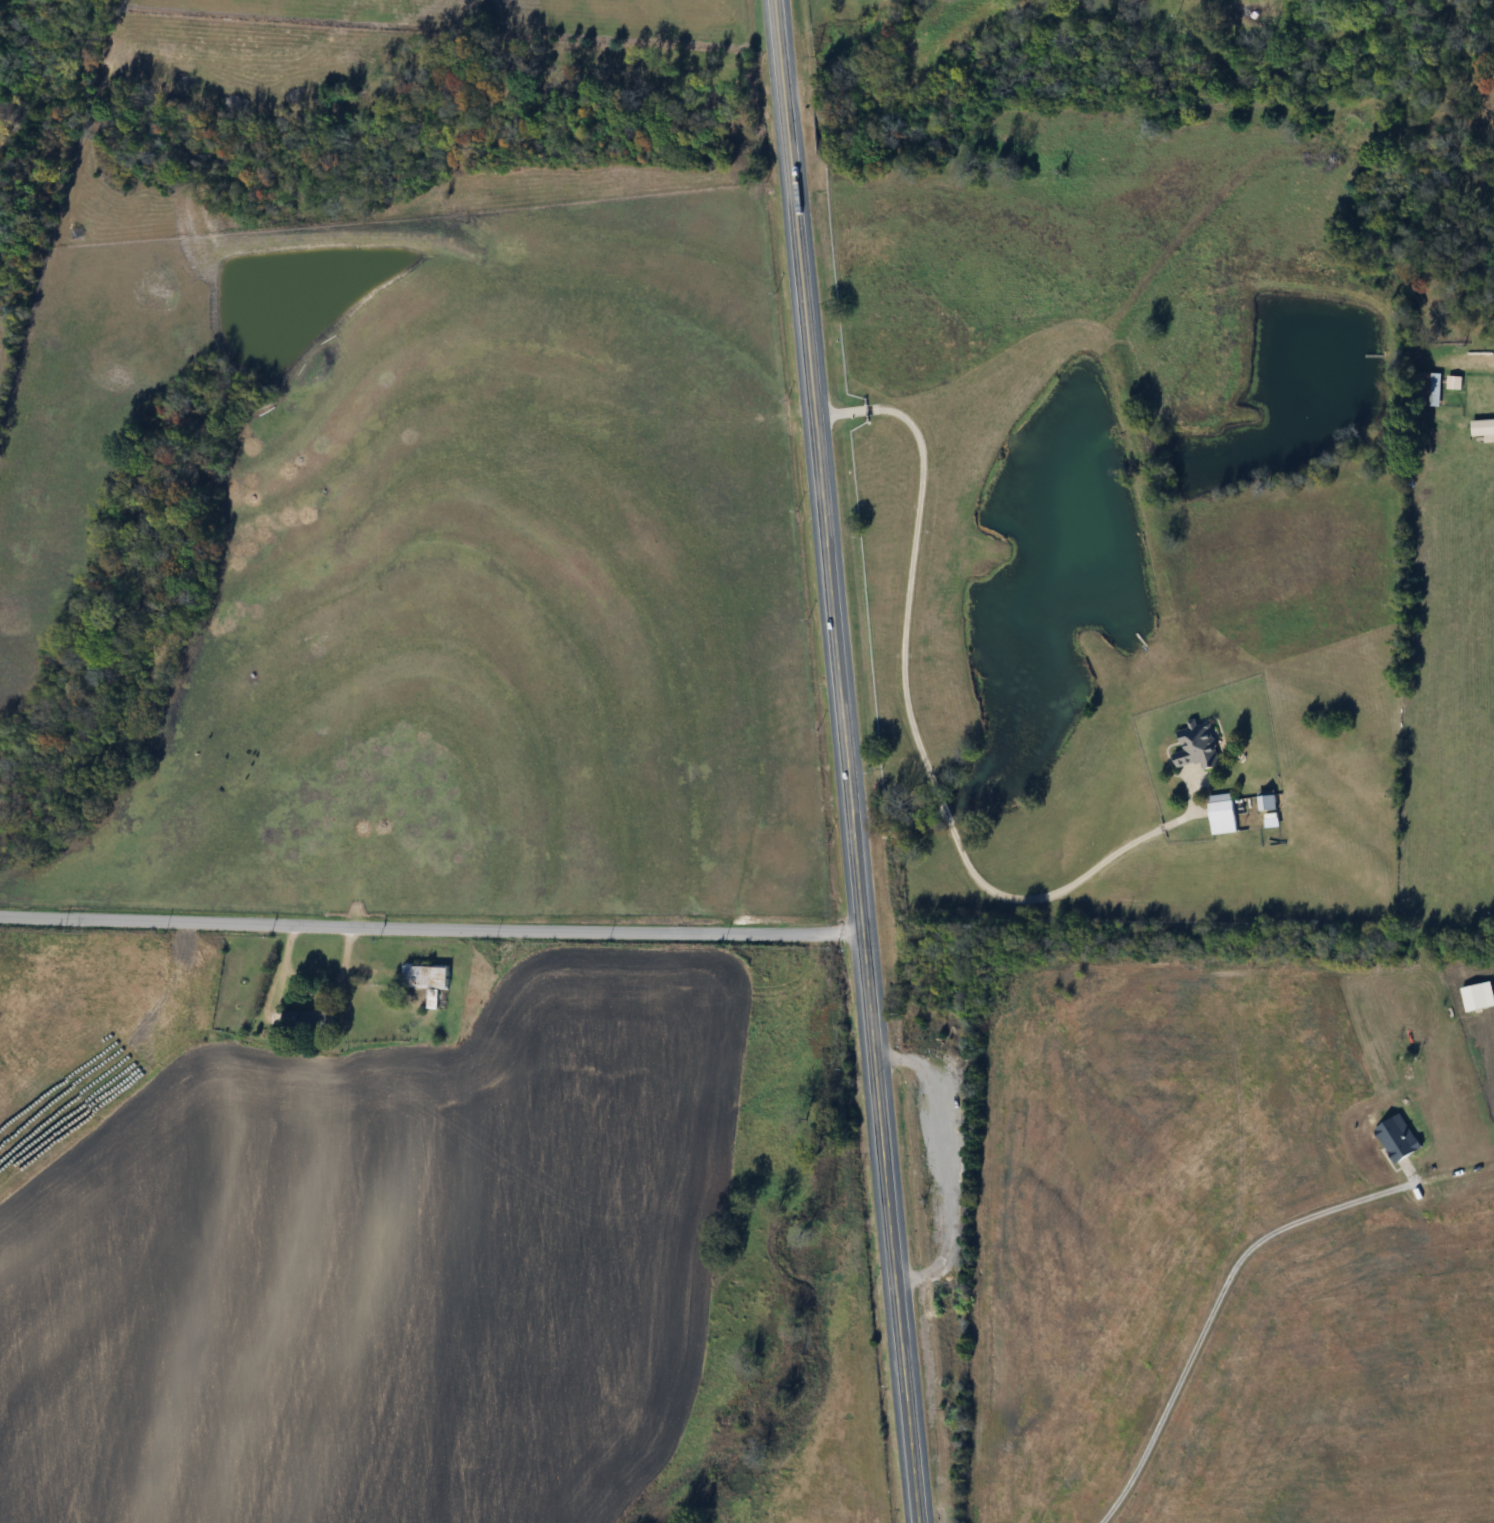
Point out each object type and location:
road: (1479, 355)
building: (1431, 389)
building: (1483, 427)
road: (919, 739)
building: (1198, 746)
road: (848, 761)
building: (1223, 817)
road: (433, 929)
building: (428, 976)
building: (1478, 996)
building: (432, 1000)
building: (305, 1019)
building: (427, 1026)
building: (1399, 1139)
road: (1217, 1304)

